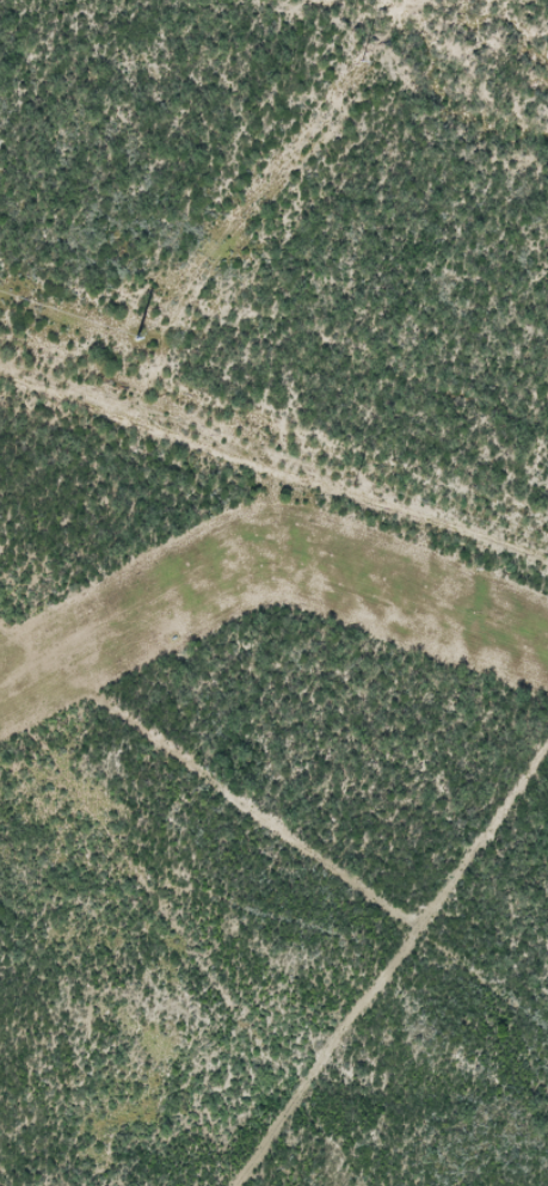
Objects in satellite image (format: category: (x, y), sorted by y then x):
power tower: (364, 62)
road: (279, 325)
power tower: (140, 340)
power tower: (352, 485)

